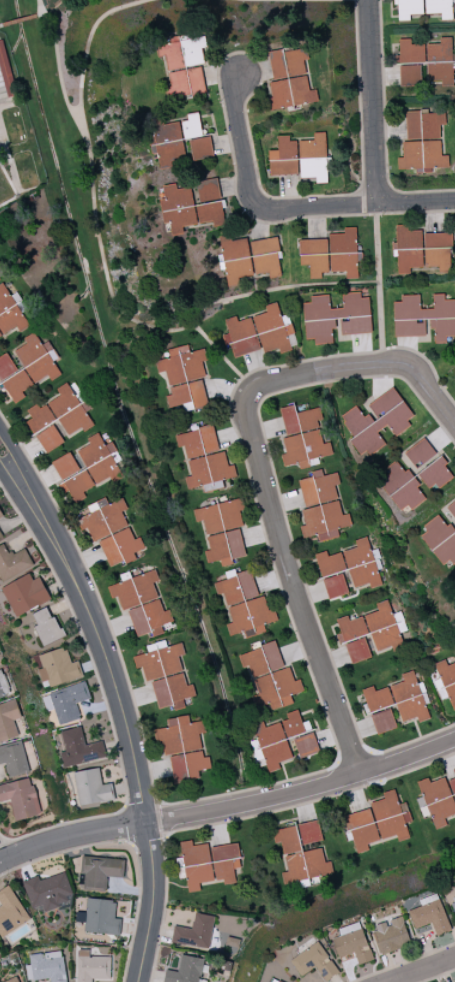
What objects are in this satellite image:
road: (309, 0)
building: (439, 8)
building: (408, 9)
road: (85, 47)
building: (430, 58)
building: (184, 65)
building: (409, 75)
building: (290, 79)
building: (1, 91)
road: (372, 101)
building: (191, 126)
building: (422, 142)
building: (168, 144)
building: (200, 148)
road: (243, 155)
building: (300, 157)
road: (369, 203)
building: (191, 205)
road: (97, 236)
building: (422, 250)
building: (330, 254)
building: (249, 258)
road: (377, 284)
road: (277, 285)
building: (10, 312)
building: (336, 317)
building: (424, 317)
building: (273, 329)
building: (240, 336)
road: (382, 365)
building: (27, 366)
building: (184, 378)
building: (70, 411)
building: (39, 418)
building: (376, 422)
building: (302, 437)
building: (49, 438)
building: (204, 459)
building: (427, 464)
building: (65, 466)
building: (93, 467)
building: (401, 487)
building: (318, 488)
building: (451, 509)
building: (1, 514)
building: (323, 521)
building: (110, 531)
building: (222, 531)
building: (0, 535)
building: (440, 541)
building: (13, 562)
road: (73, 562)
building: (329, 563)
building: (361, 564)
road: (290, 569)
road: (68, 586)
building: (334, 586)
building: (134, 590)
building: (24, 594)
building: (244, 605)
building: (148, 618)
building: (46, 626)
building: (350, 628)
building: (357, 650)
building: (57, 668)
building: (166, 672)
building: (270, 677)
building: (447, 680)
building: (2, 689)
building: (161, 693)
building: (377, 698)
building: (409, 698)
building: (65, 702)
building: (8, 719)
building: (383, 721)
building: (292, 724)
building: (271, 744)
building: (305, 745)
building: (183, 747)
building: (77, 748)
building: (13, 759)
building: (452, 786)
building: (91, 787)
building: (20, 798)
building: (437, 801)
road: (229, 809)
building: (390, 816)
building: (361, 829)
building: (309, 832)
road: (150, 844)
building: (299, 857)
building: (209, 864)
building: (100, 871)
building: (47, 891)
building: (453, 907)
building: (10, 912)
building: (429, 915)
building: (99, 917)
building: (194, 932)
building: (391, 935)
building: (231, 942)
building: (352, 943)
building: (314, 962)
building: (46, 967)
building: (92, 967)
building: (185, 970)
road: (425, 970)
building: (12, 980)
building: (275, 980)

